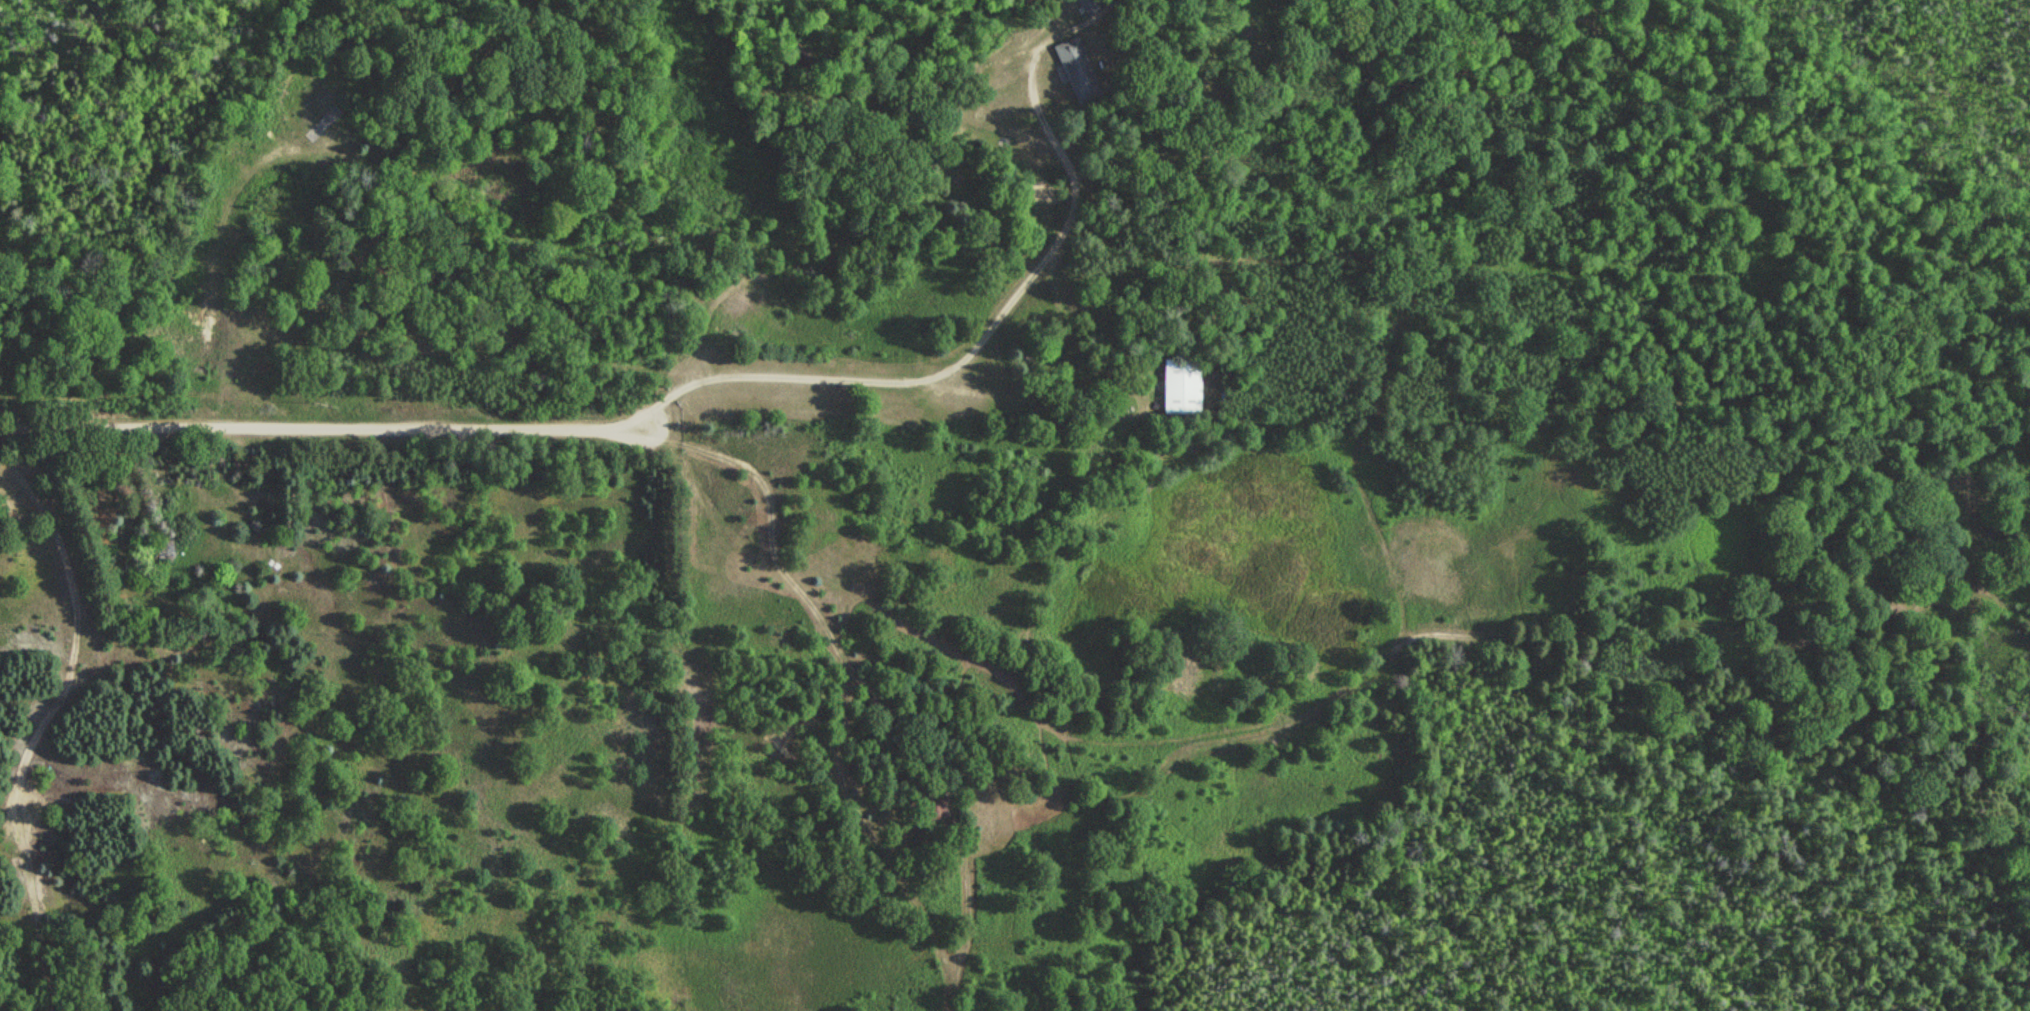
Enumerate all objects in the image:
building: (1078, 70)
road: (998, 313)
building: (1181, 386)
road: (318, 428)
road: (65, 686)
building: (936, 810)

